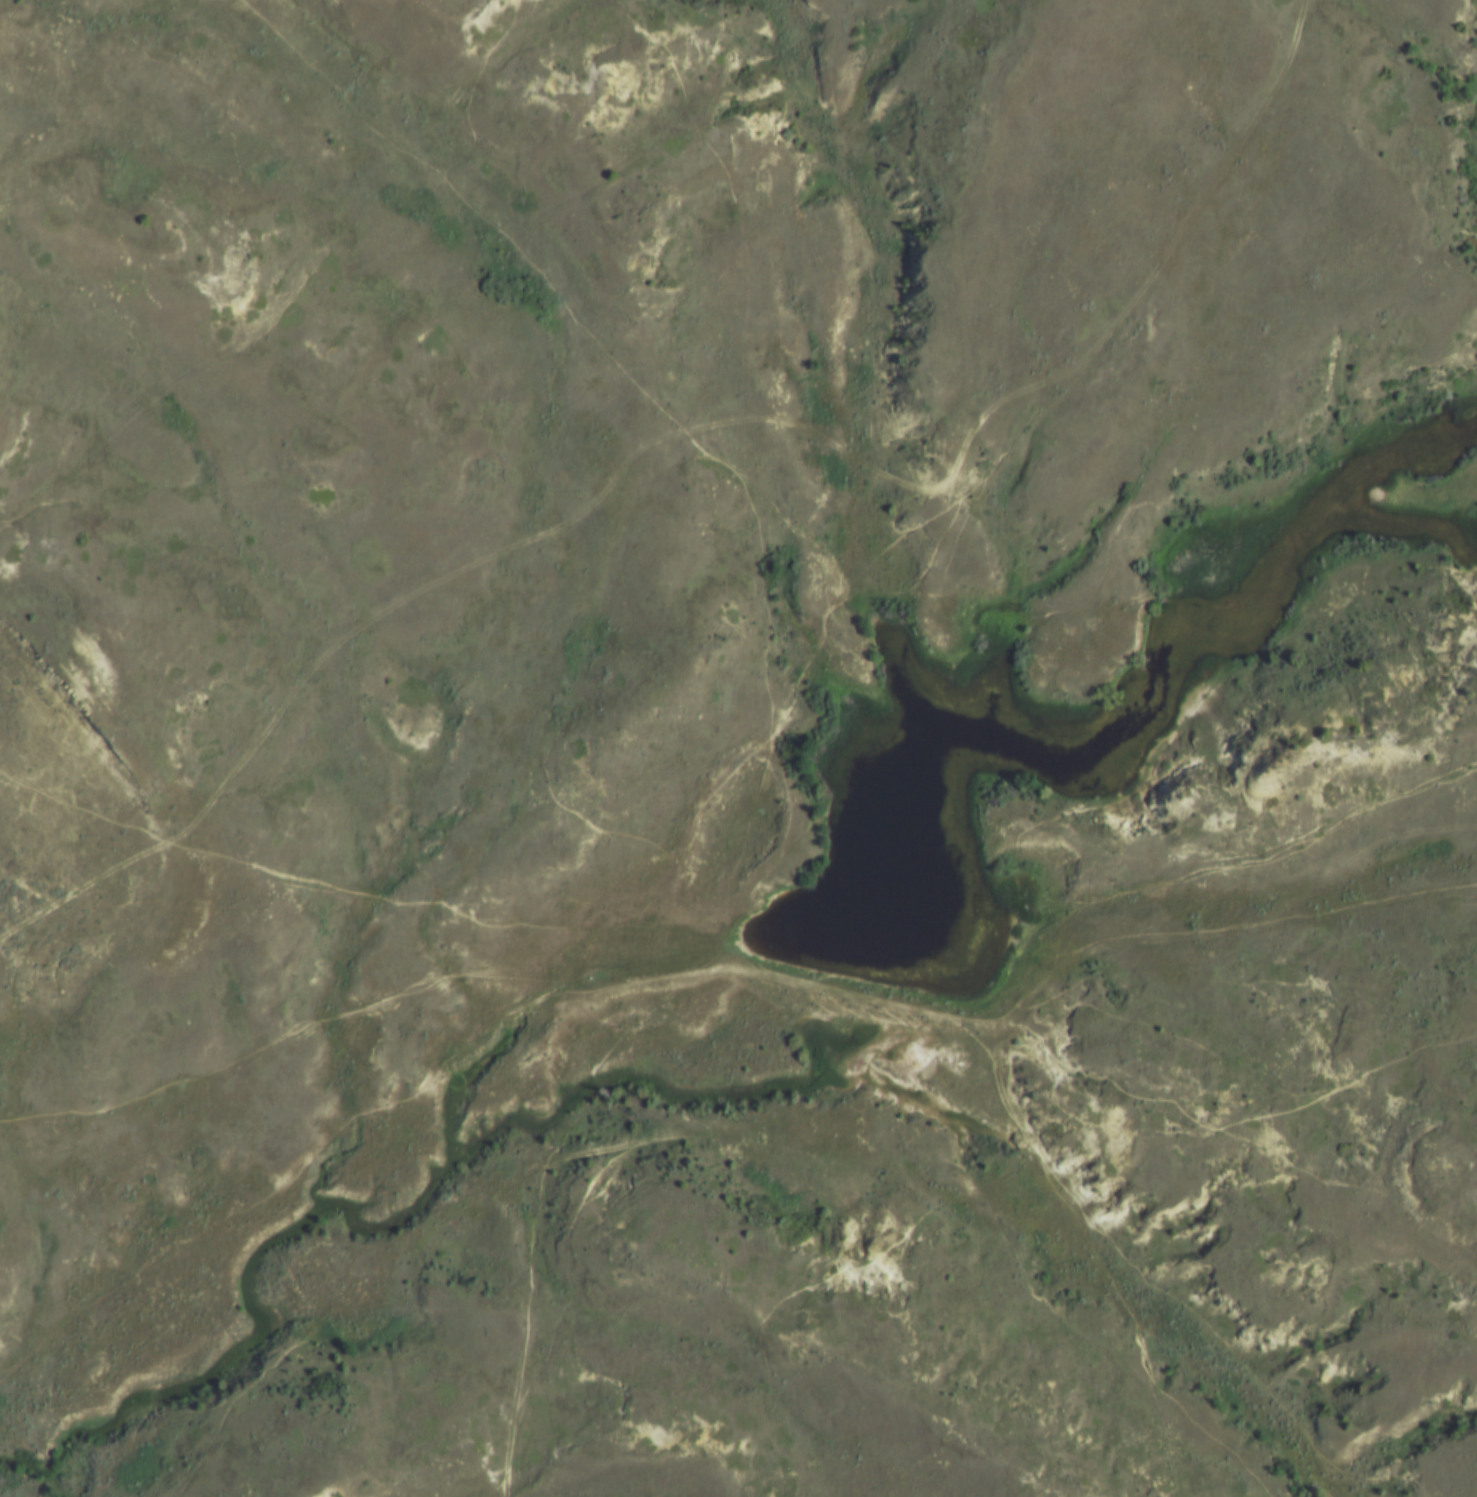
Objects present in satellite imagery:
road: (700, 427)

